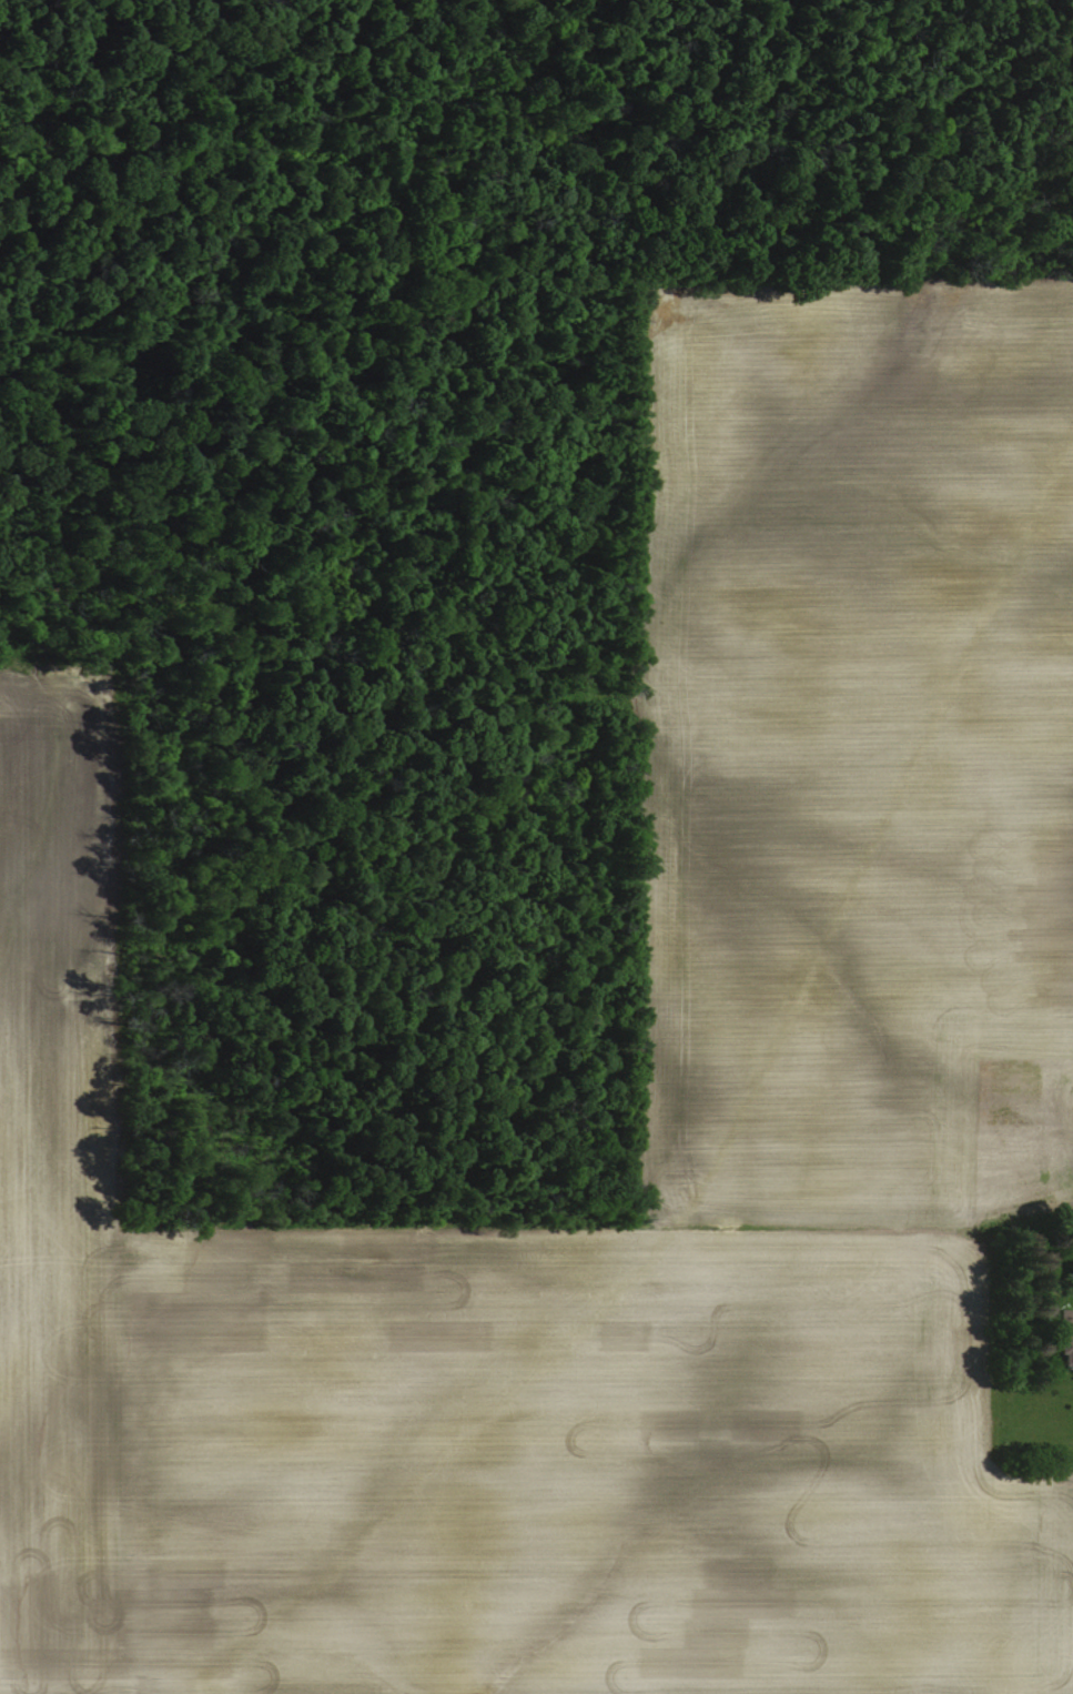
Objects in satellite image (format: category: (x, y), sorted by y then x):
building: (1056, 1338)

